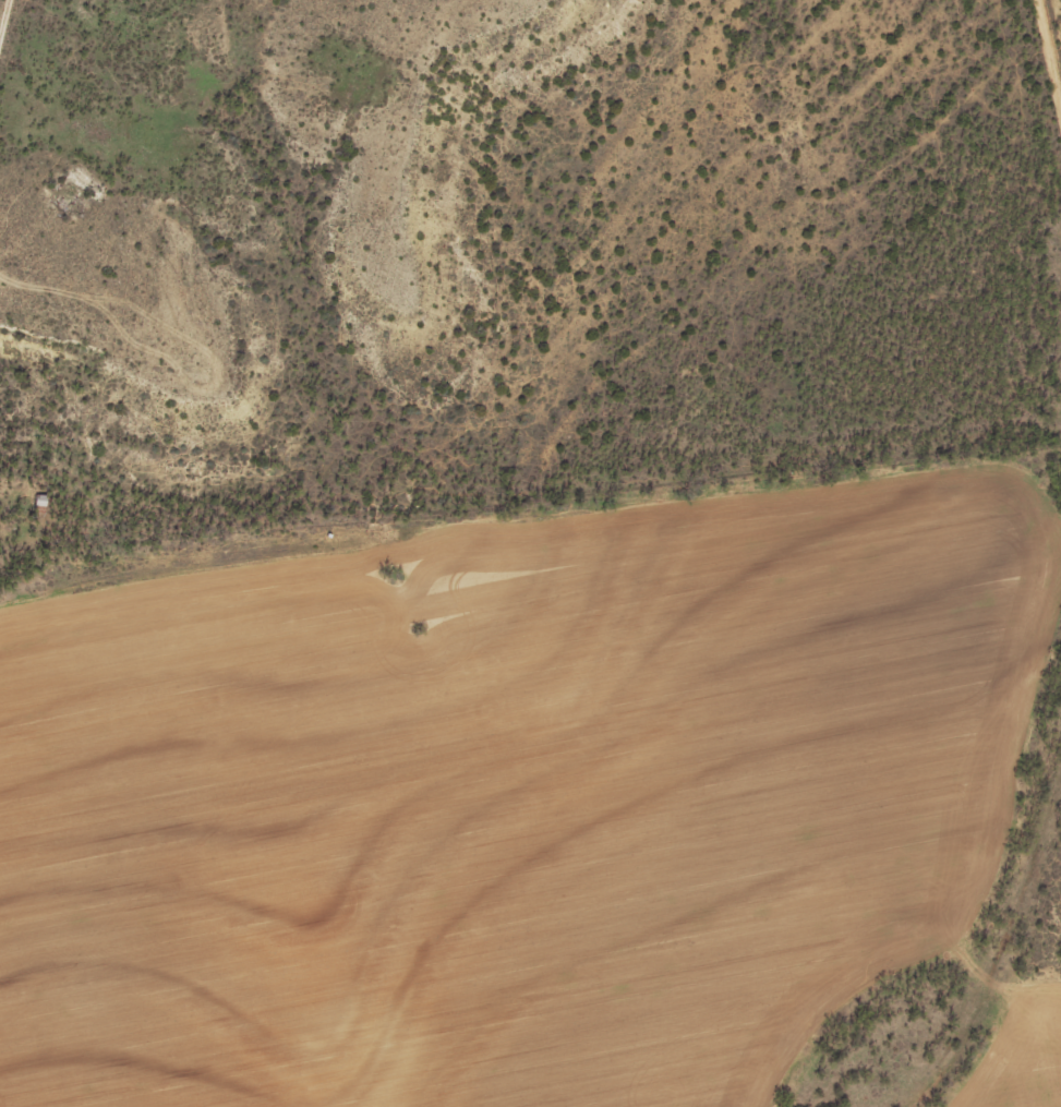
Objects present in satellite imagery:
road: (0, 2)
road: (1048, 58)

